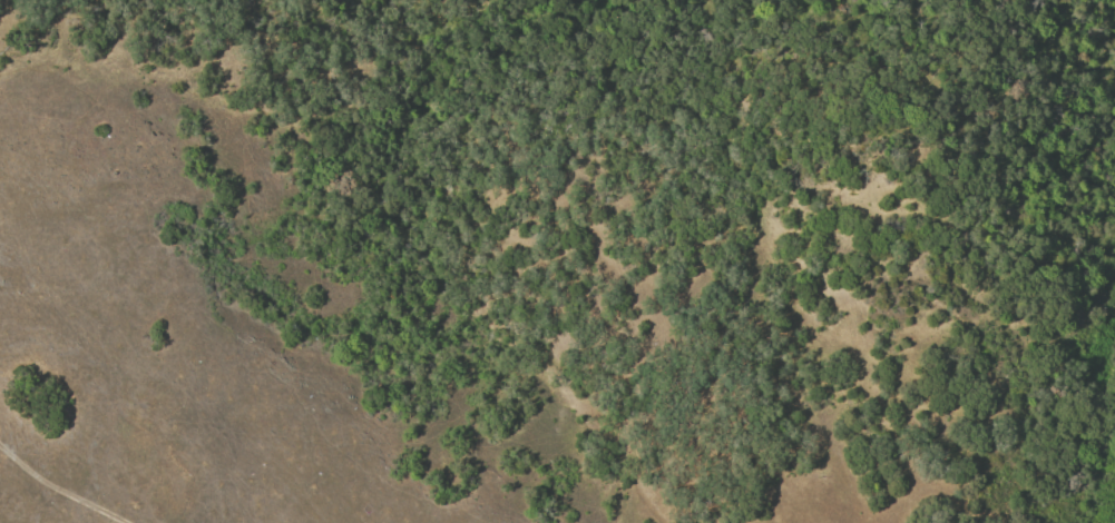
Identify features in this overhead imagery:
road: (59, 487)

